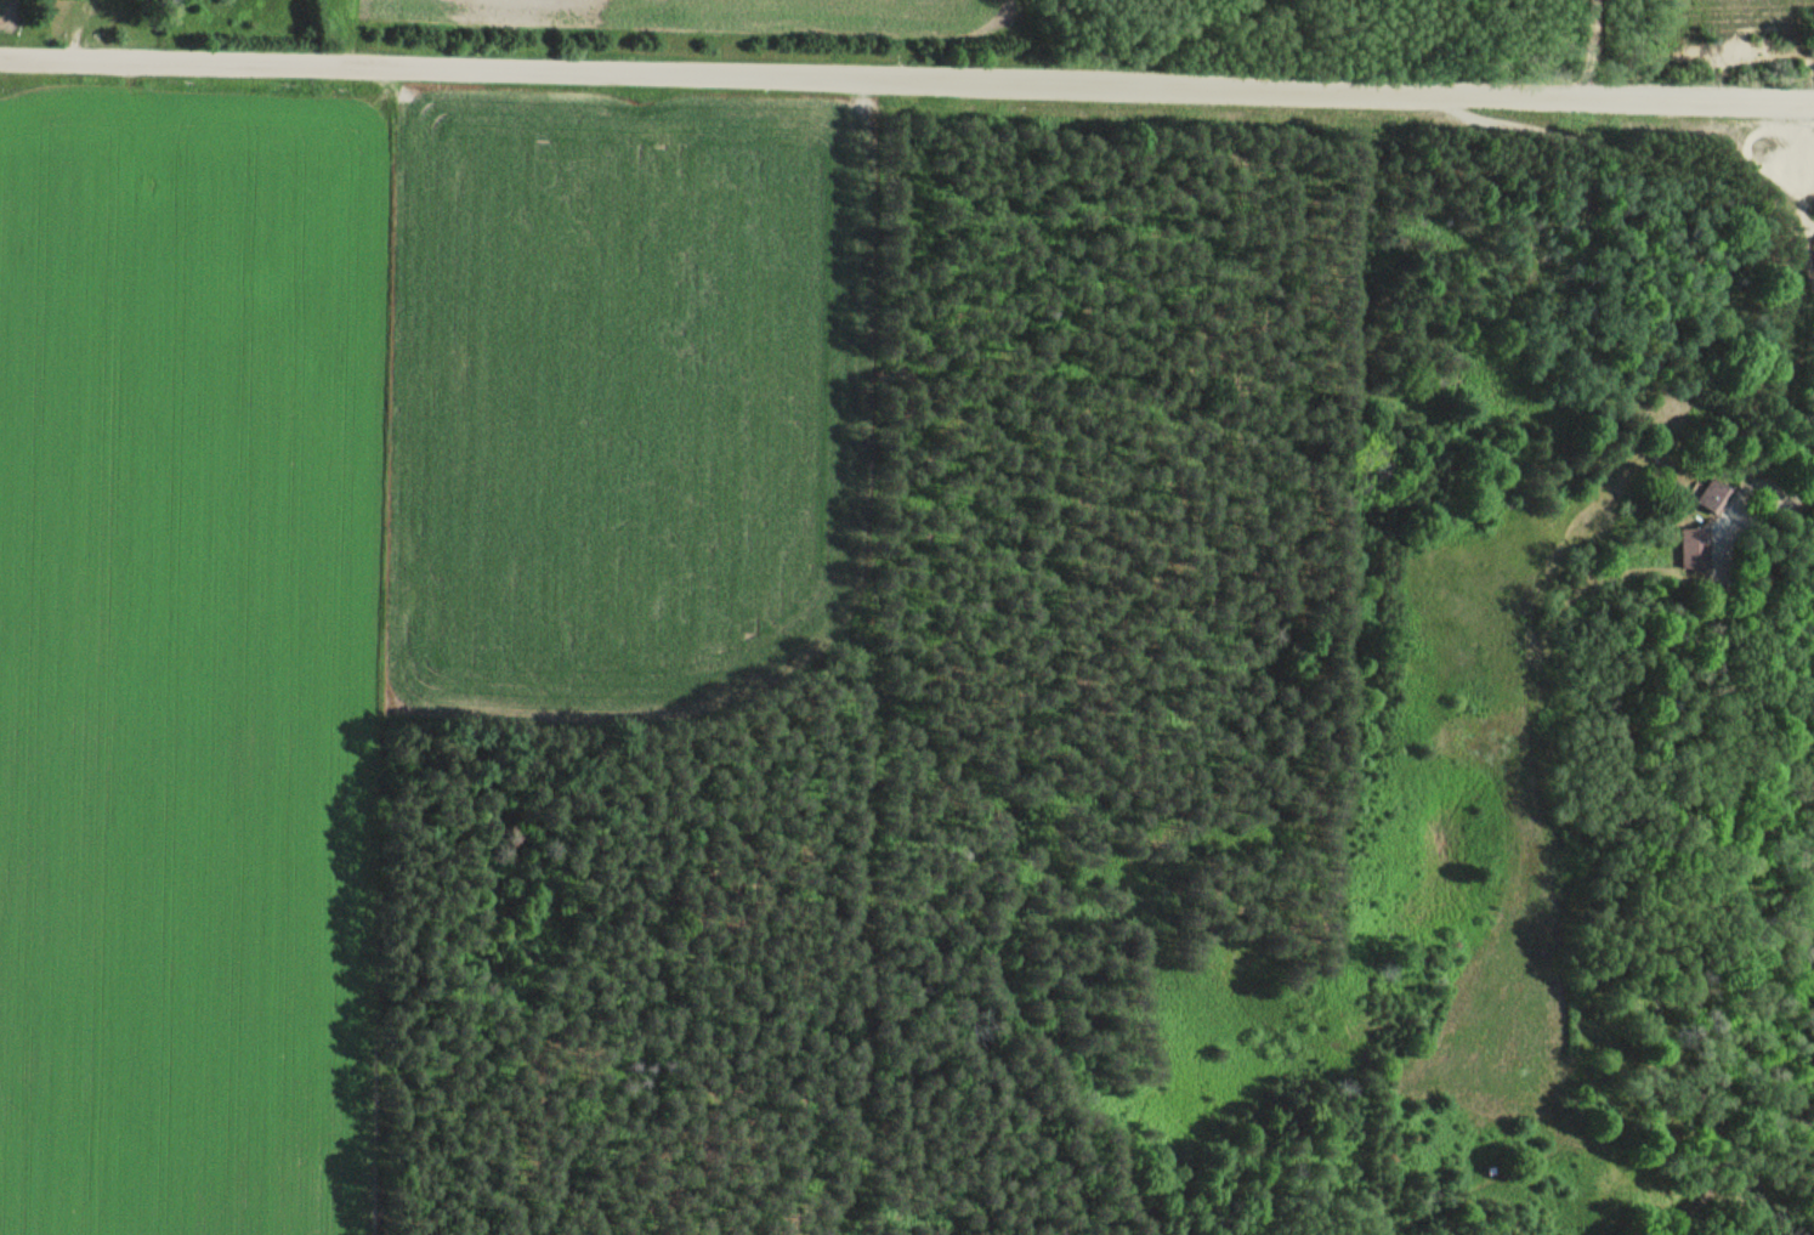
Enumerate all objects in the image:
road: (1588, 46)
road: (192, 61)
road: (1099, 89)
road: (1637, 160)
building: (1710, 495)
road: (1773, 495)
building: (1694, 548)

